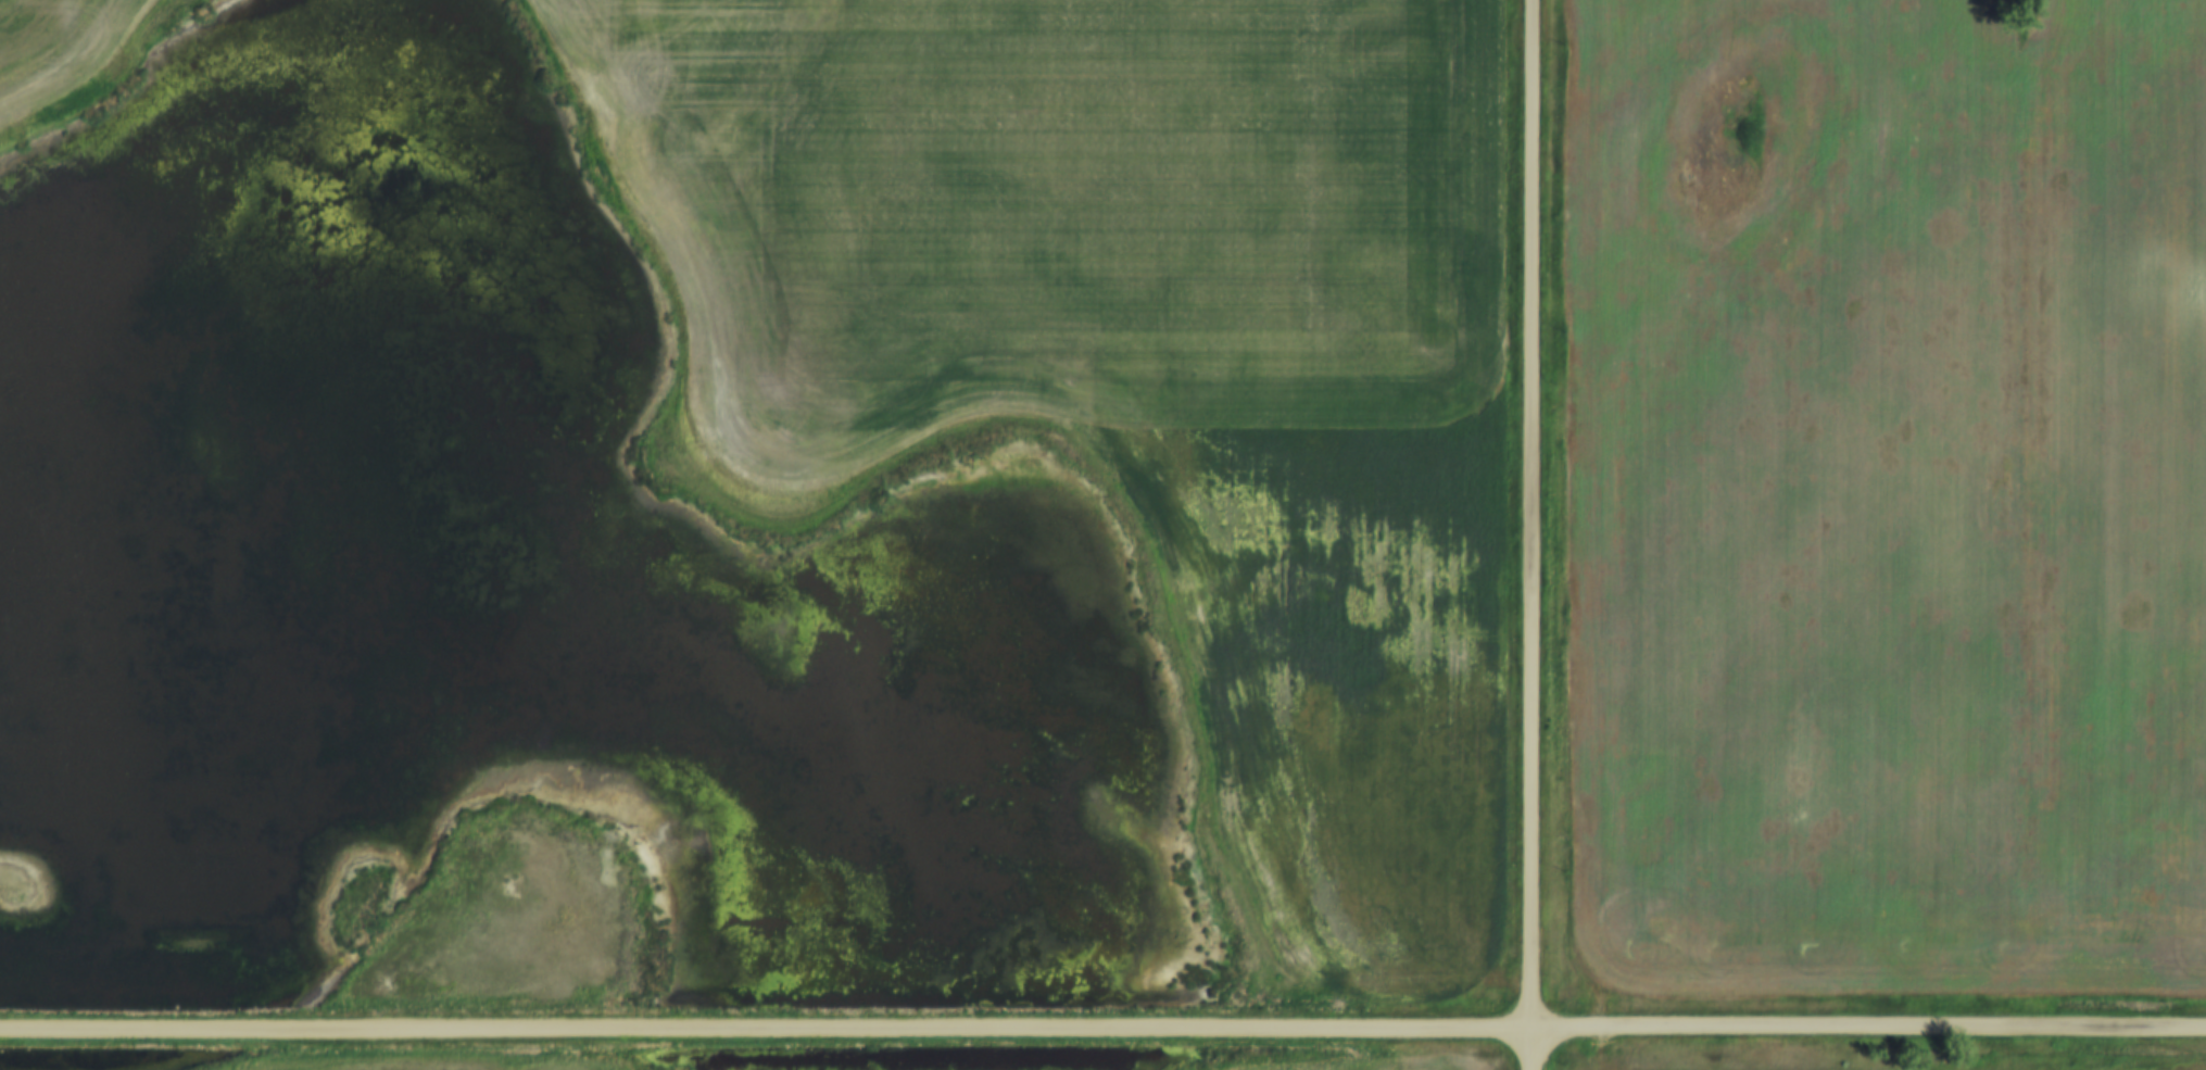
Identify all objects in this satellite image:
road: (1530, 534)
road: (1102, 1028)

